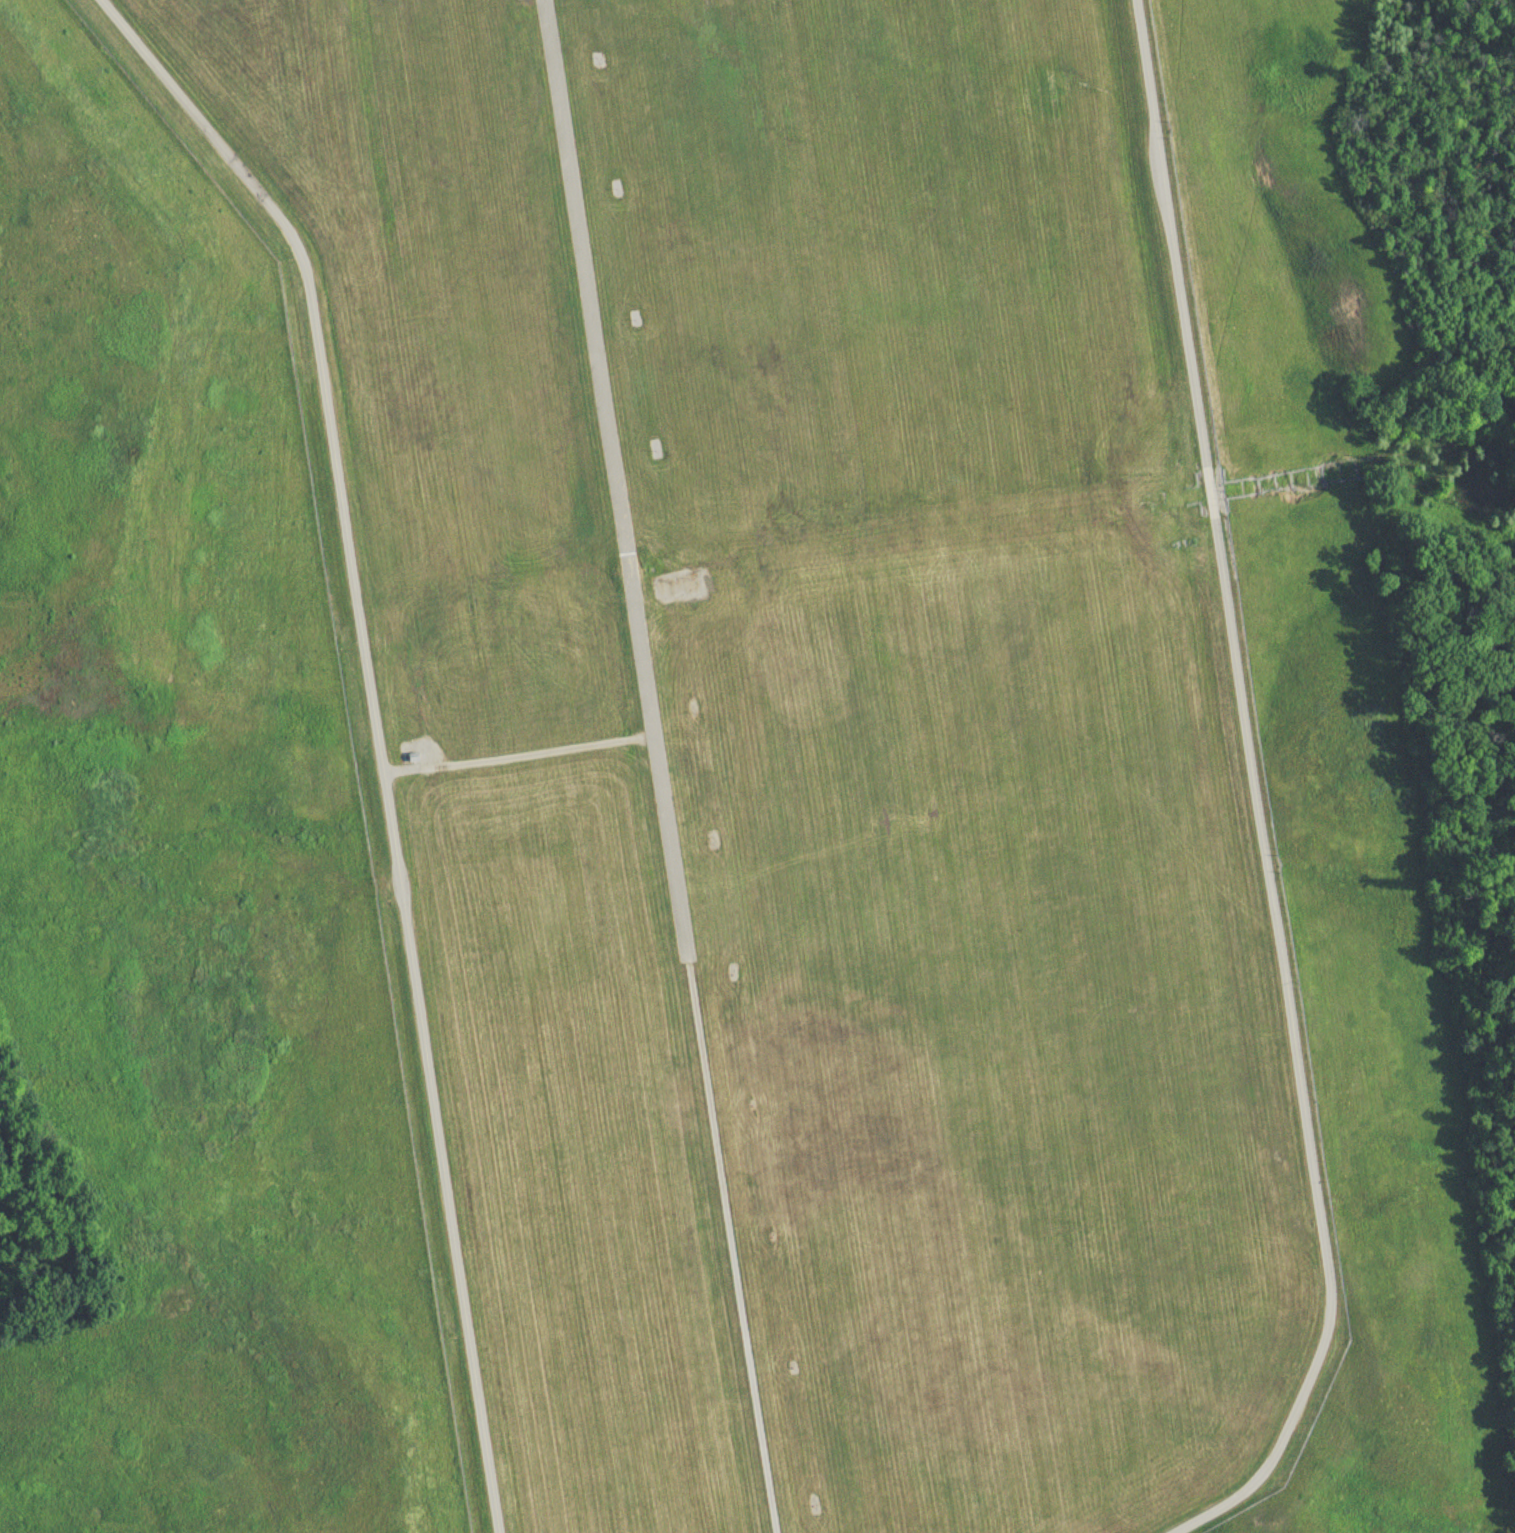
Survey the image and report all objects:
road: (378, 734)
airport: (794, 749)
road: (519, 753)
road: (658, 766)
road: (1255, 794)

